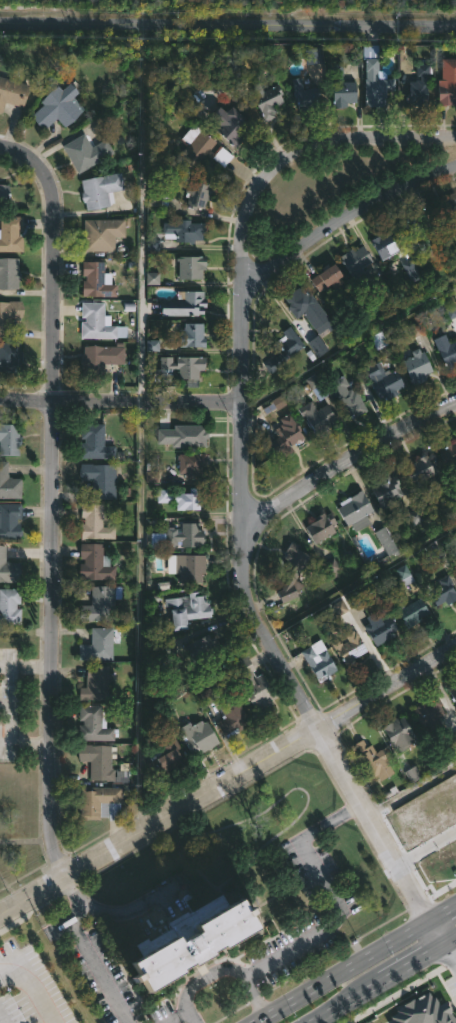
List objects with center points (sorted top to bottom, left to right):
road: (227, 25)
building: (373, 76)
building: (446, 82)
building: (418, 84)
building: (11, 92)
building: (345, 92)
building: (304, 93)
building: (270, 101)
building: (58, 107)
building: (231, 125)
road: (368, 141)
building: (201, 148)
building: (87, 152)
building: (101, 190)
building: (198, 194)
building: (4, 196)
building: (446, 215)
road: (340, 221)
building: (184, 231)
building: (415, 232)
building: (10, 233)
building: (102, 233)
building: (386, 244)
building: (357, 263)
building: (191, 267)
building: (412, 271)
building: (9, 273)
building: (328, 277)
building: (96, 280)
building: (181, 304)
building: (309, 310)
building: (9, 315)
building: (99, 323)
building: (192, 335)
road: (347, 345)
building: (319, 347)
building: (285, 349)
building: (449, 354)
building: (9, 358)
building: (100, 359)
building: (418, 366)
building: (179, 368)
building: (383, 380)
building: (348, 395)
road: (120, 401)
building: (317, 417)
building: (282, 432)
building: (183, 436)
building: (9, 439)
building: (95, 443)
building: (449, 454)
building: (191, 464)
road: (346, 464)
road: (139, 467)
building: (418, 472)
building: (100, 480)
building: (8, 483)
building: (387, 491)
road: (53, 498)
building: (182, 498)
building: (356, 511)
building: (10, 521)
building: (95, 523)
building: (320, 526)
building: (187, 536)
road: (242, 558)
building: (95, 563)
building: (186, 567)
building: (8, 569)
building: (293, 572)
building: (444, 591)
building: (100, 604)
building: (9, 606)
building: (188, 609)
building: (414, 612)
building: (380, 629)
building: (98, 646)
building: (350, 647)
building: (206, 651)
building: (166, 653)
building: (318, 660)
building: (94, 684)
building: (255, 688)
building: (453, 695)
building: (429, 713)
building: (233, 717)
building: (94, 724)
building: (398, 734)
building: (198, 736)
building: (162, 755)
building: (374, 761)
building: (103, 763)
road: (229, 783)
road: (412, 792)
building: (99, 803)
road: (332, 895)
road: (128, 910)
road: (441, 915)
road: (435, 936)
building: (190, 942)
road: (442, 948)
road: (89, 950)
road: (450, 956)
road: (406, 970)
road: (227, 971)
road: (342, 973)
road: (34, 989)
road: (351, 1003)
road: (184, 1014)
road: (0, 1022)

